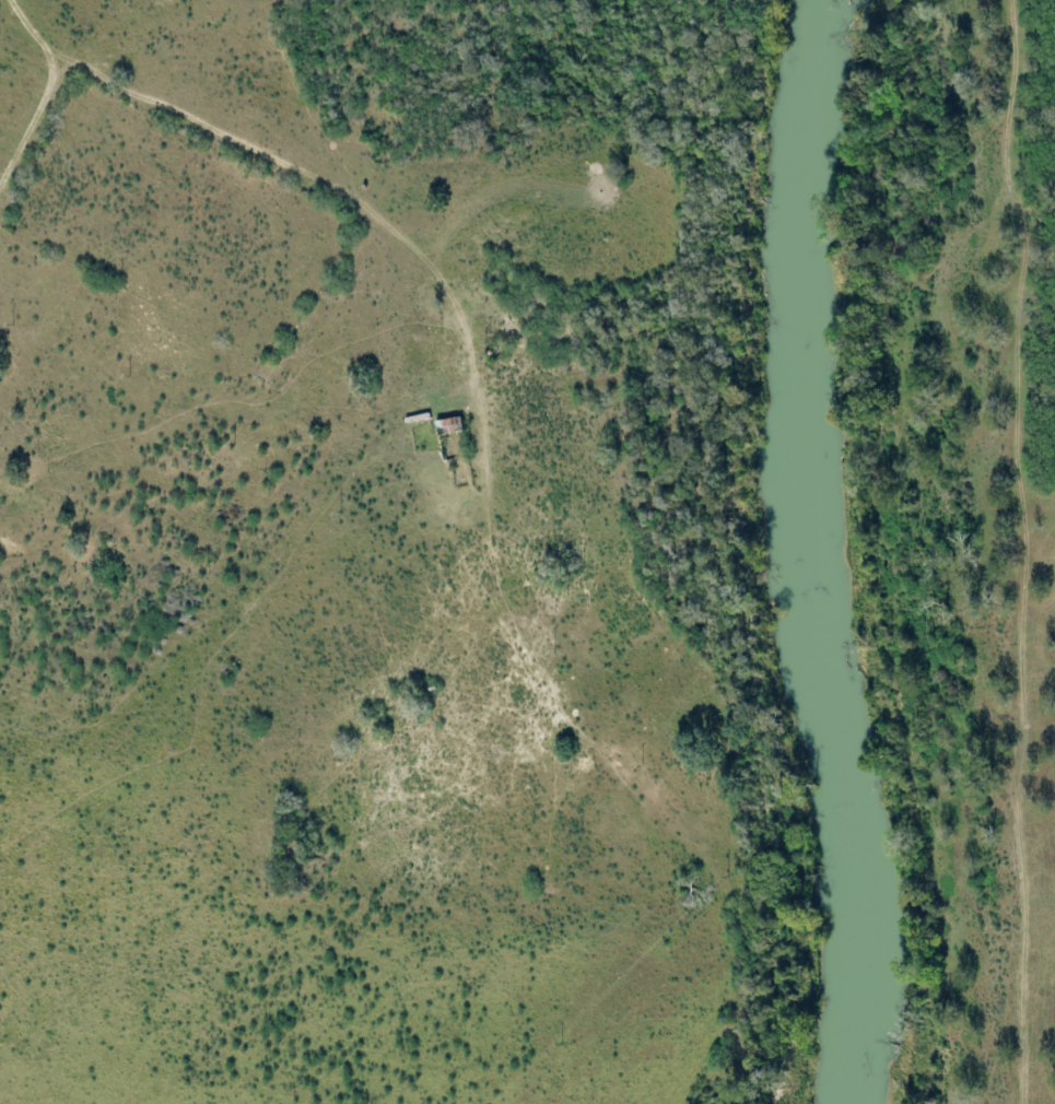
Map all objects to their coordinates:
road: (1052, 352)
river: (801, 552)

